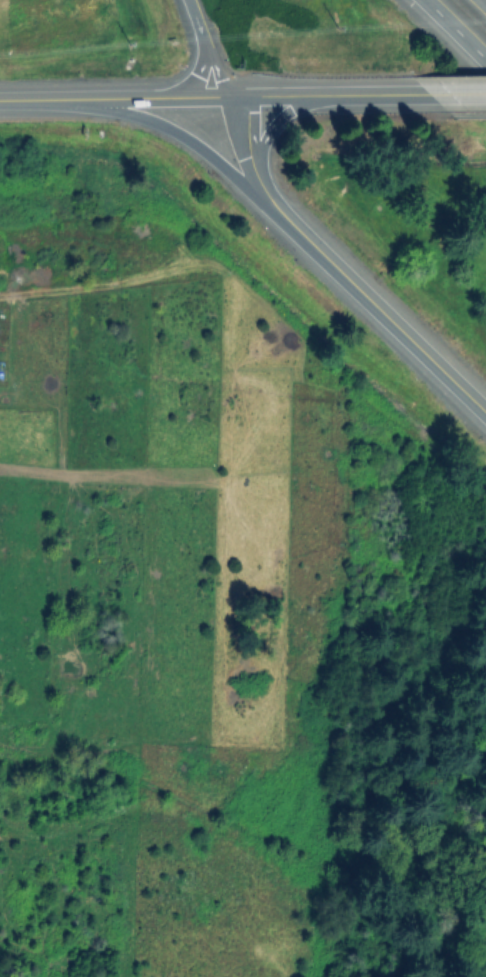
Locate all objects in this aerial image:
road: (484, 1)
road: (455, 30)
road: (204, 48)
road: (456, 93)
road: (335, 95)
road: (169, 98)
road: (46, 99)
road: (284, 119)
road: (191, 142)
road: (251, 156)
road: (381, 312)

